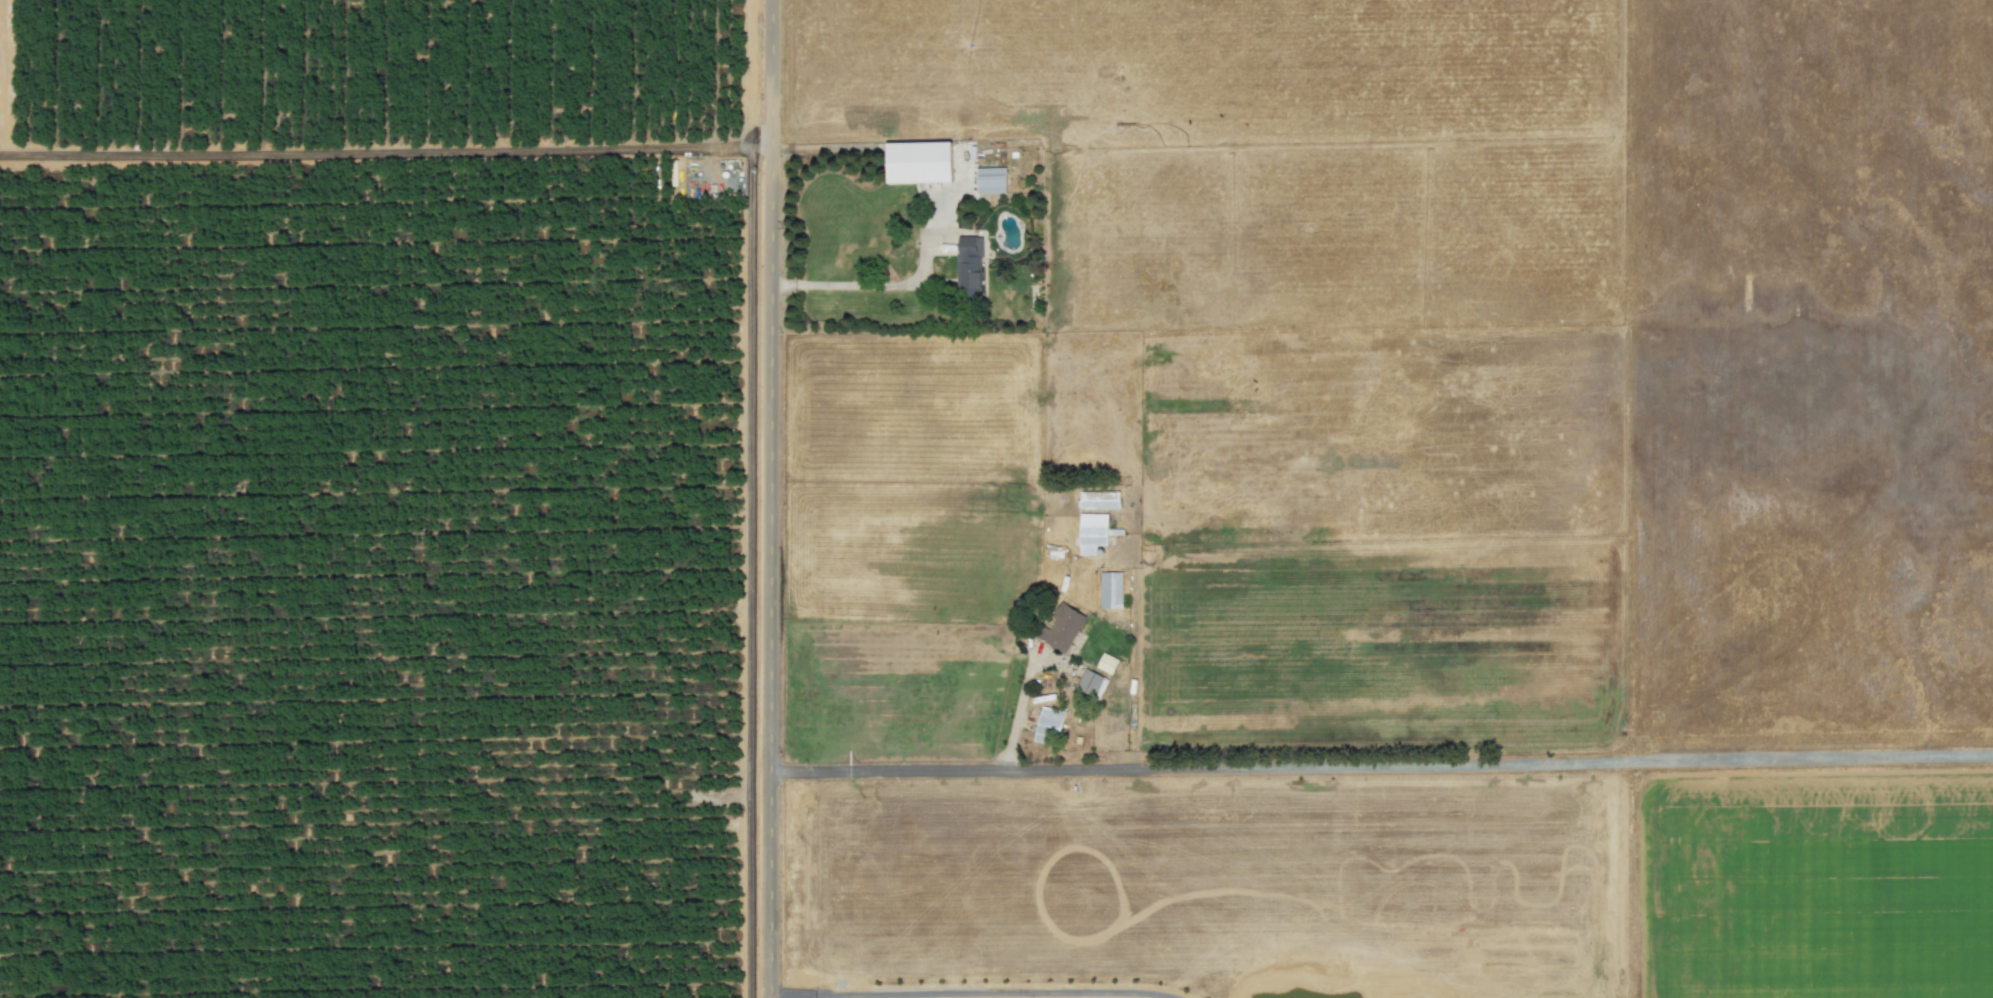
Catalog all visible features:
building: (919, 162)
building: (991, 180)
building: (969, 266)
road: (880, 284)
road: (773, 498)
building: (1099, 500)
building: (1111, 589)
building: (1062, 628)
building: (1107, 663)
building: (1091, 683)
building: (1048, 724)
road: (1556, 762)
road: (1075, 768)
road: (975, 992)

